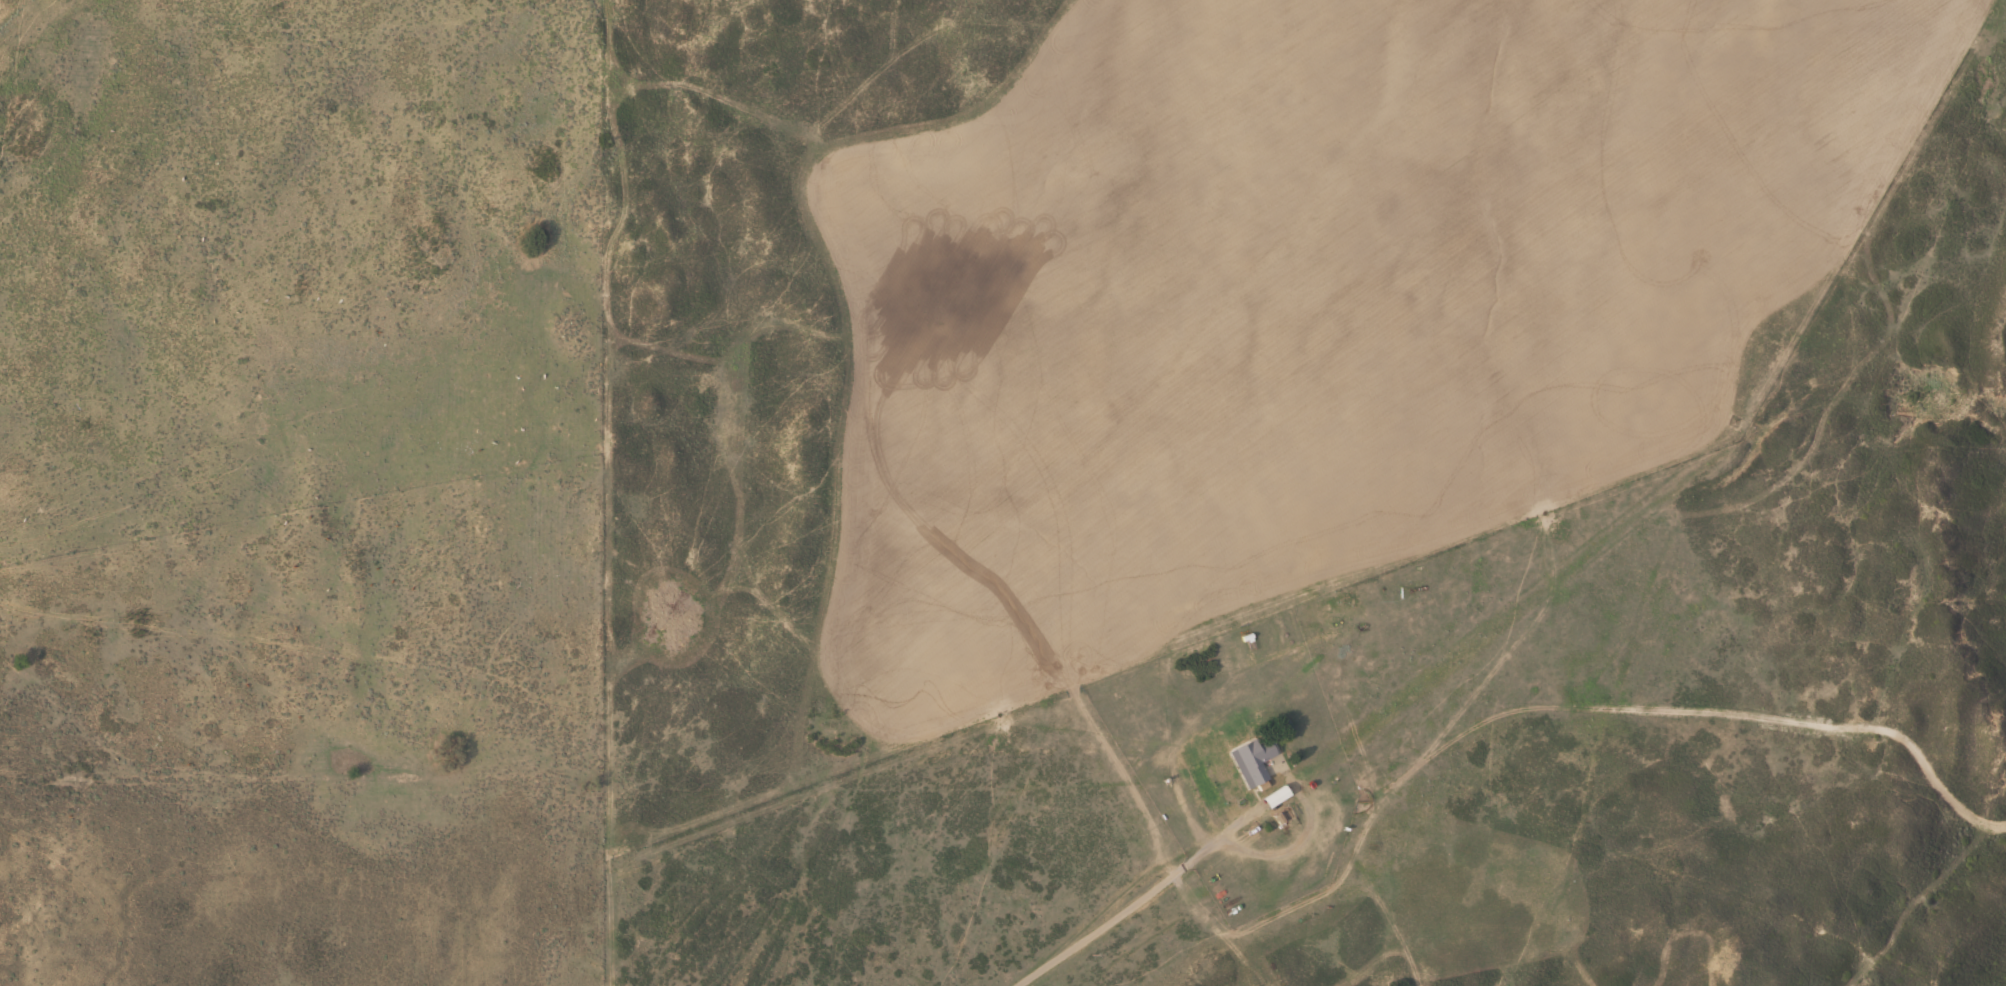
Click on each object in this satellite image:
building: (1248, 760)
building: (1268, 798)

